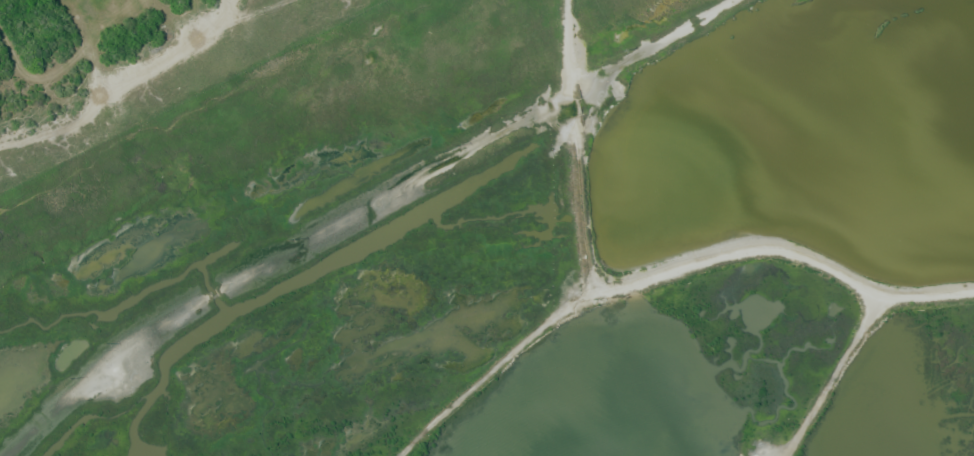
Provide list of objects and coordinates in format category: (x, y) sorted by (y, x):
road: (855, 339)

